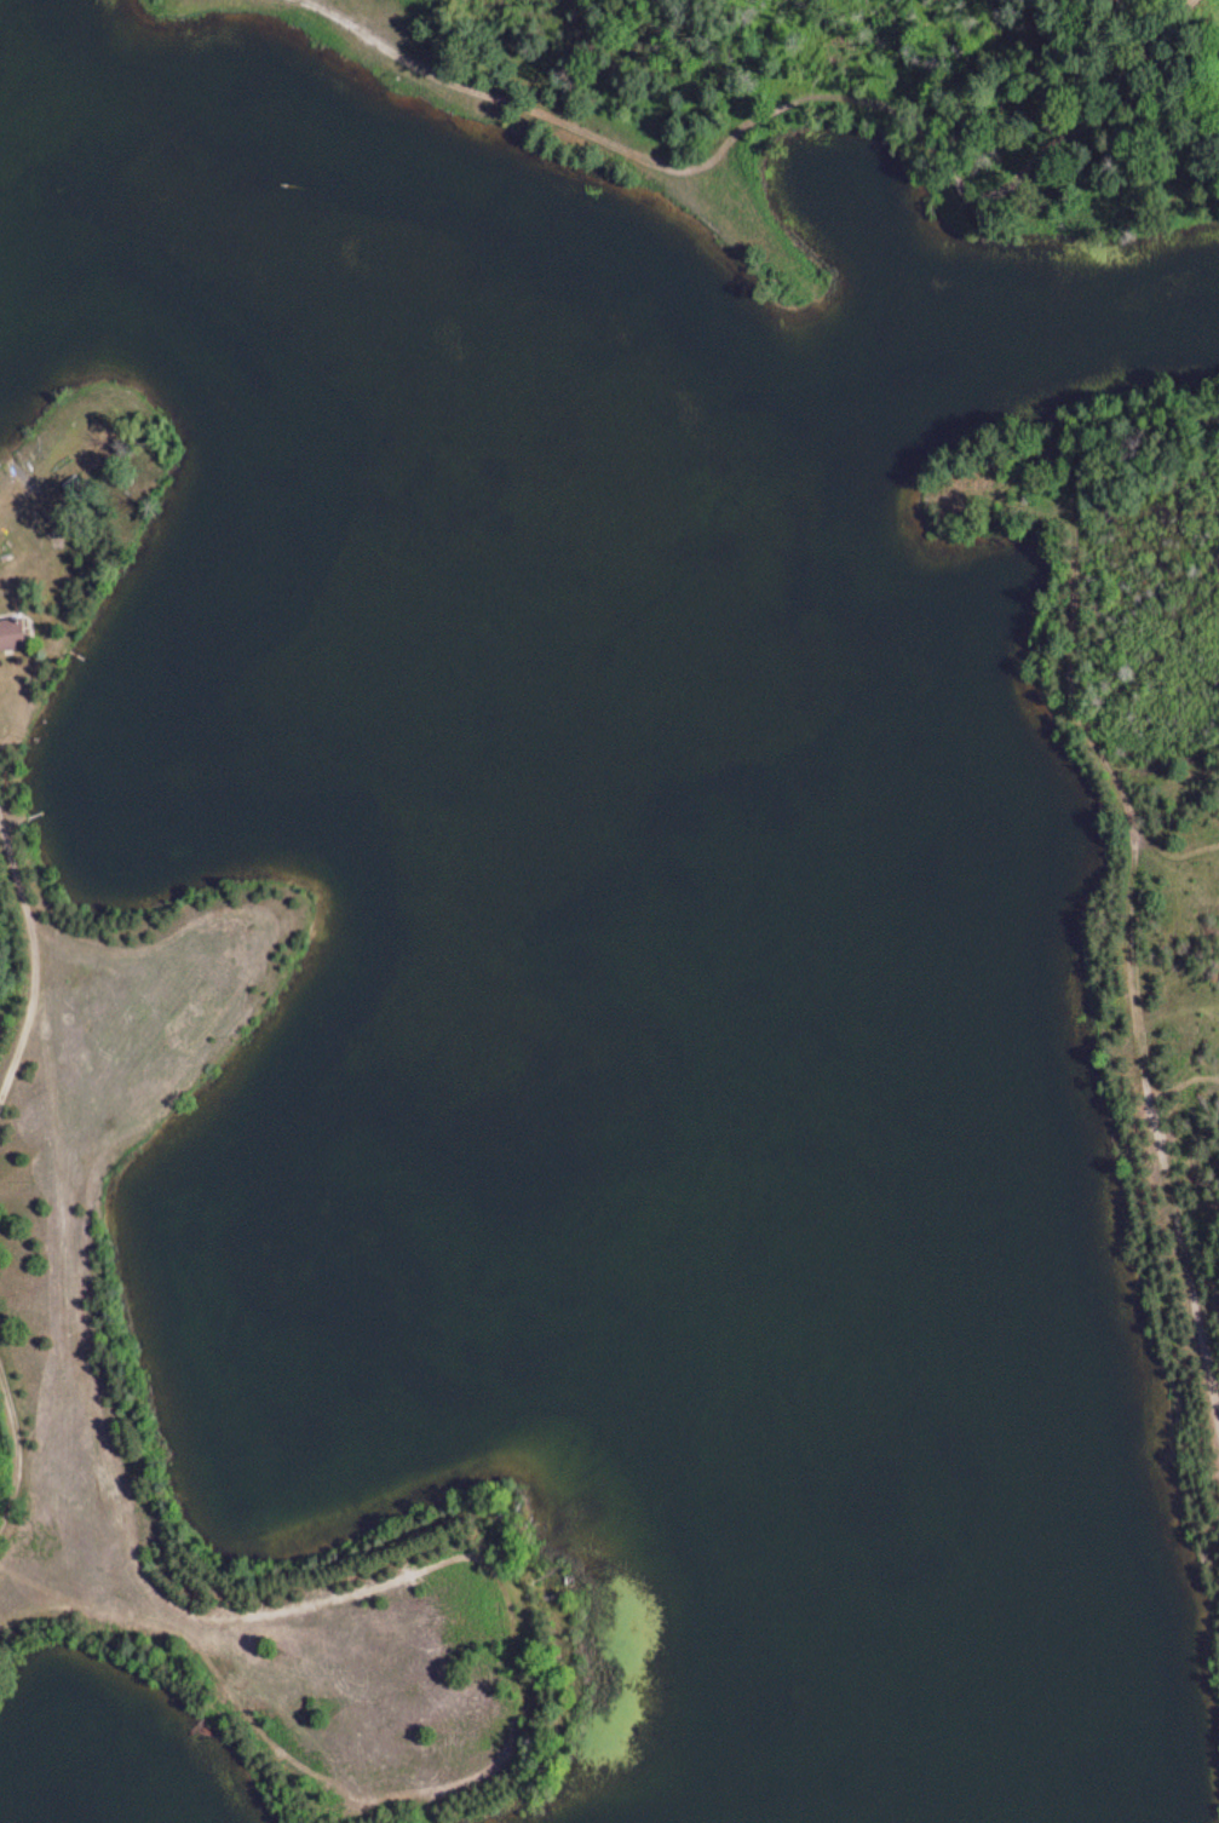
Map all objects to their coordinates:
building: (17, 637)
road: (36, 965)
road: (2, 1394)

